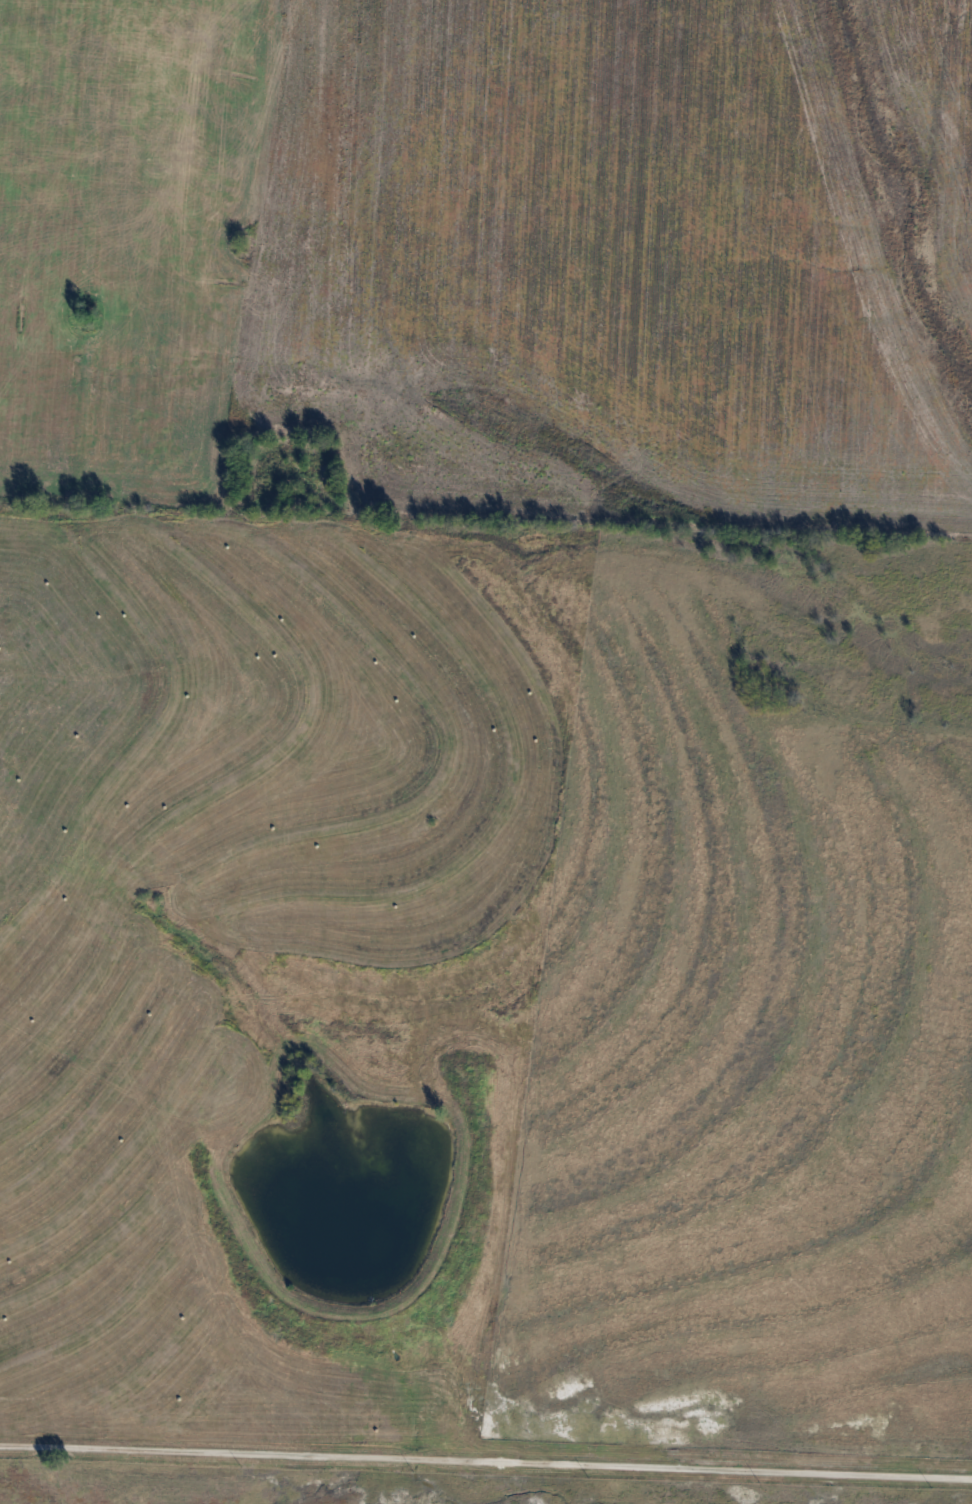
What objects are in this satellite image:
road: (485, 1471)

